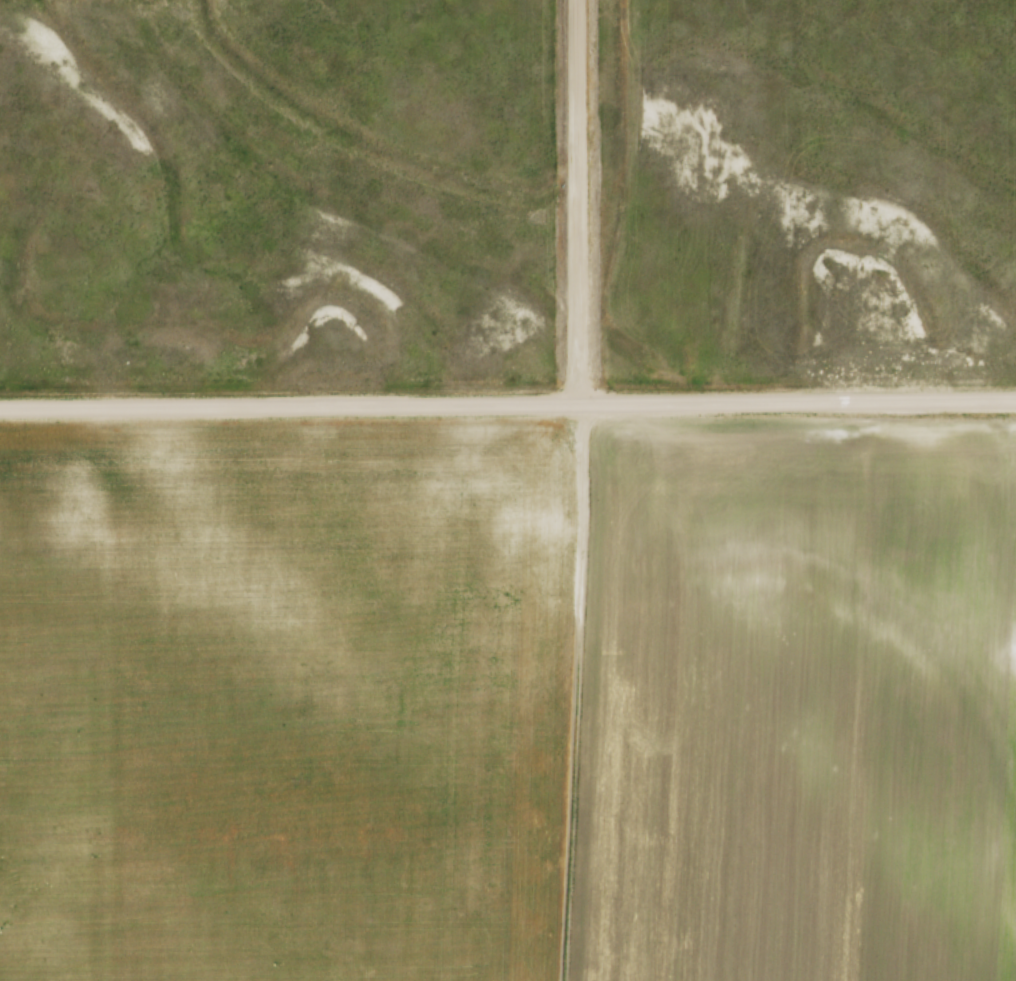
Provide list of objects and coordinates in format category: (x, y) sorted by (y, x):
road: (574, 200)
road: (507, 400)

